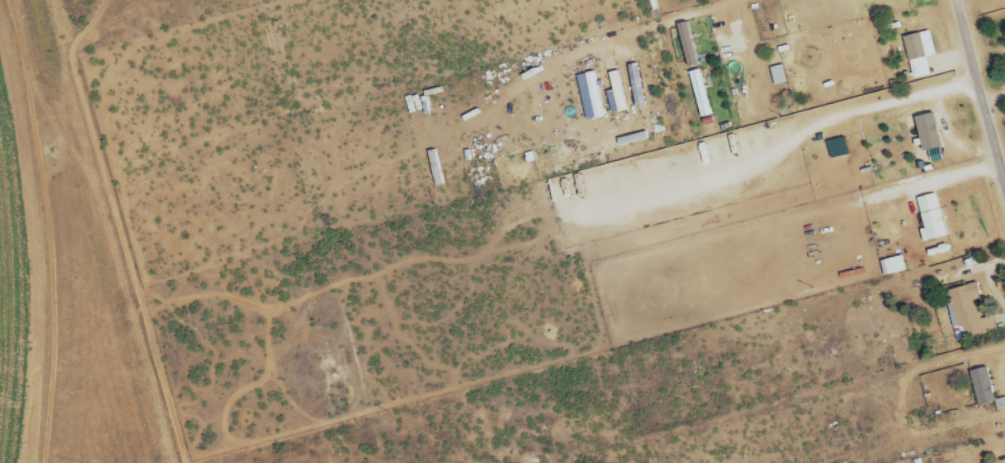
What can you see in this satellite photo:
building: (691, 45)
building: (923, 54)
building: (780, 76)
building: (620, 92)
building: (703, 94)
road: (980, 97)
road: (886, 101)
building: (933, 133)
building: (841, 148)
road: (896, 191)
building: (935, 218)
building: (896, 266)
crop: (65, 274)
building: (967, 313)
building: (980, 386)

